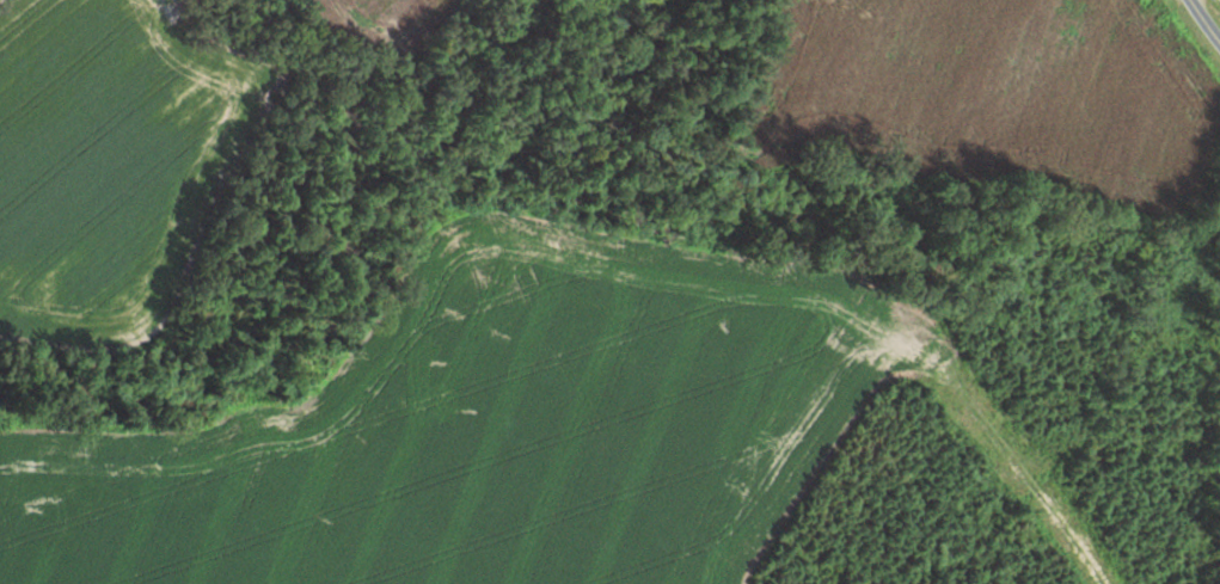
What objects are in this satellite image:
road: (1204, 20)

